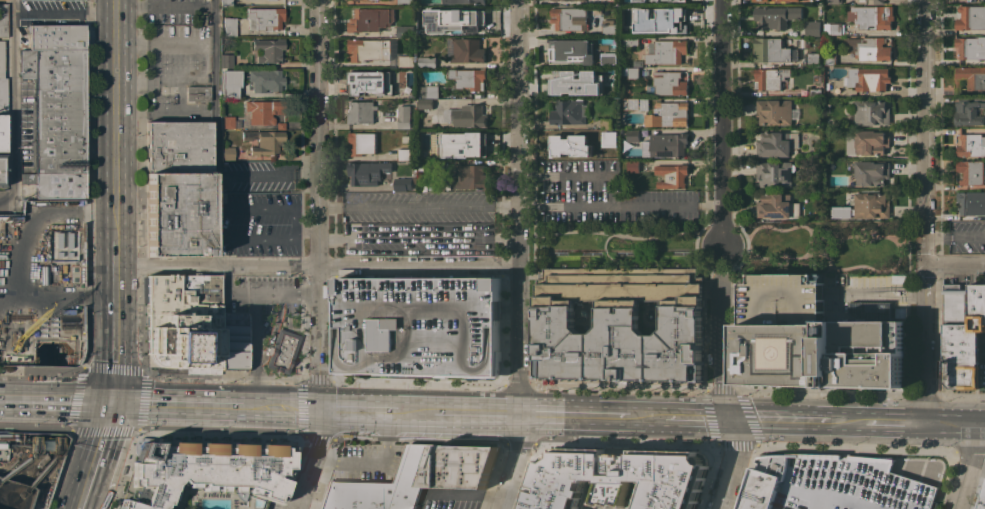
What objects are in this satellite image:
building: (2, 0)
building: (53, 0)
building: (271, 0)
building: (551, 0)
building: (636, 0)
building: (651, 0)
building: (679, 0)
building: (770, 0)
building: (796, 0)
building: (464, 1)
building: (834, 1)
building: (879, 1)
road: (214, 2)
building: (405, 2)
building: (608, 2)
building: (226, 3)
building: (634, 10)
building: (431, 11)
road: (64, 13)
building: (776, 16)
building: (872, 16)
building: (971, 17)
building: (570, 18)
building: (265, 19)
building: (371, 19)
building: (4, 21)
building: (468, 22)
building: (668, 23)
building: (230, 27)
building: (610, 27)
building: (813, 27)
building: (833, 28)
building: (406, 30)
building: (56, 37)
building: (607, 41)
building: (629, 41)
building: (971, 47)
building: (870, 48)
building: (370, 49)
building: (269, 50)
building: (468, 50)
building: (771, 50)
building: (570, 51)
building: (666, 51)
building: (609, 58)
building: (814, 58)
building: (2, 59)
building: (830, 59)
building: (227, 61)
building: (407, 61)
building: (427, 61)
road: (205, 62)
building: (638, 63)
building: (817, 70)
building: (633, 72)
building: (817, 76)
building: (469, 78)
building: (770, 78)
building: (869, 78)
building: (970, 79)
building: (365, 80)
building: (267, 81)
building: (576, 82)
building: (671, 83)
building: (230, 84)
road: (215, 86)
building: (831, 89)
building: (402, 91)
building: (430, 91)
building: (815, 92)
building: (198, 94)
building: (3, 95)
building: (635, 103)
building: (426, 104)
building: (58, 109)
building: (361, 111)
building: (775, 111)
building: (265, 112)
building: (568, 112)
building: (871, 112)
building: (970, 112)
building: (669, 114)
road: (166, 115)
building: (467, 115)
building: (405, 117)
road: (115, 120)
building: (228, 122)
building: (607, 123)
road: (721, 123)
road: (518, 132)
building: (3, 133)
building: (431, 133)
road: (317, 134)
building: (634, 135)
building: (609, 137)
building: (872, 141)
building: (265, 142)
building: (363, 142)
building: (568, 143)
building: (777, 143)
building: (669, 144)
building: (849, 144)
building: (971, 144)
building: (466, 146)
building: (228, 153)
building: (404, 154)
building: (607, 154)
building: (437, 165)
building: (632, 166)
building: (2, 171)
building: (971, 171)
building: (368, 172)
building: (872, 172)
road: (566, 173)
building: (776, 173)
road: (266, 174)
building: (673, 175)
building: (472, 177)
building: (404, 181)
road: (16, 182)
building: (58, 185)
building: (177, 190)
road: (8, 200)
building: (971, 202)
road: (598, 203)
building: (778, 205)
road: (418, 206)
building: (866, 206)
road: (923, 213)
road: (728, 217)
road: (293, 223)
building: (63, 247)
road: (720, 263)
road: (954, 266)
road: (316, 267)
road: (876, 288)
road: (259, 293)
road: (113, 315)
building: (183, 324)
building: (420, 324)
building: (621, 324)
building: (963, 334)
road: (318, 338)
road: (519, 340)
building: (234, 341)
building: (283, 351)
building: (824, 353)
helipad: (789, 355)
road: (56, 388)
traffic signals: (112, 389)
road: (171, 392)
road: (723, 396)
road: (260, 397)
road: (110, 402)
road: (305, 404)
traffic signals: (320, 409)
road: (376, 409)
road: (476, 413)
road: (54, 414)
traffic signals: (108, 415)
road: (306, 415)
road: (573, 416)
road: (200, 418)
road: (644, 418)
road: (696, 419)
traffic signals: (731, 420)
road: (775, 421)
road: (392, 422)
road: (839, 423)
road: (889, 425)
road: (949, 426)
road: (981, 427)
road: (313, 459)
road: (92, 462)
road: (515, 462)
road: (364, 466)
building: (461, 466)
road: (978, 466)
road: (969, 468)
building: (205, 470)
building: (617, 480)
building: (833, 484)
building: (385, 485)
building: (982, 499)

